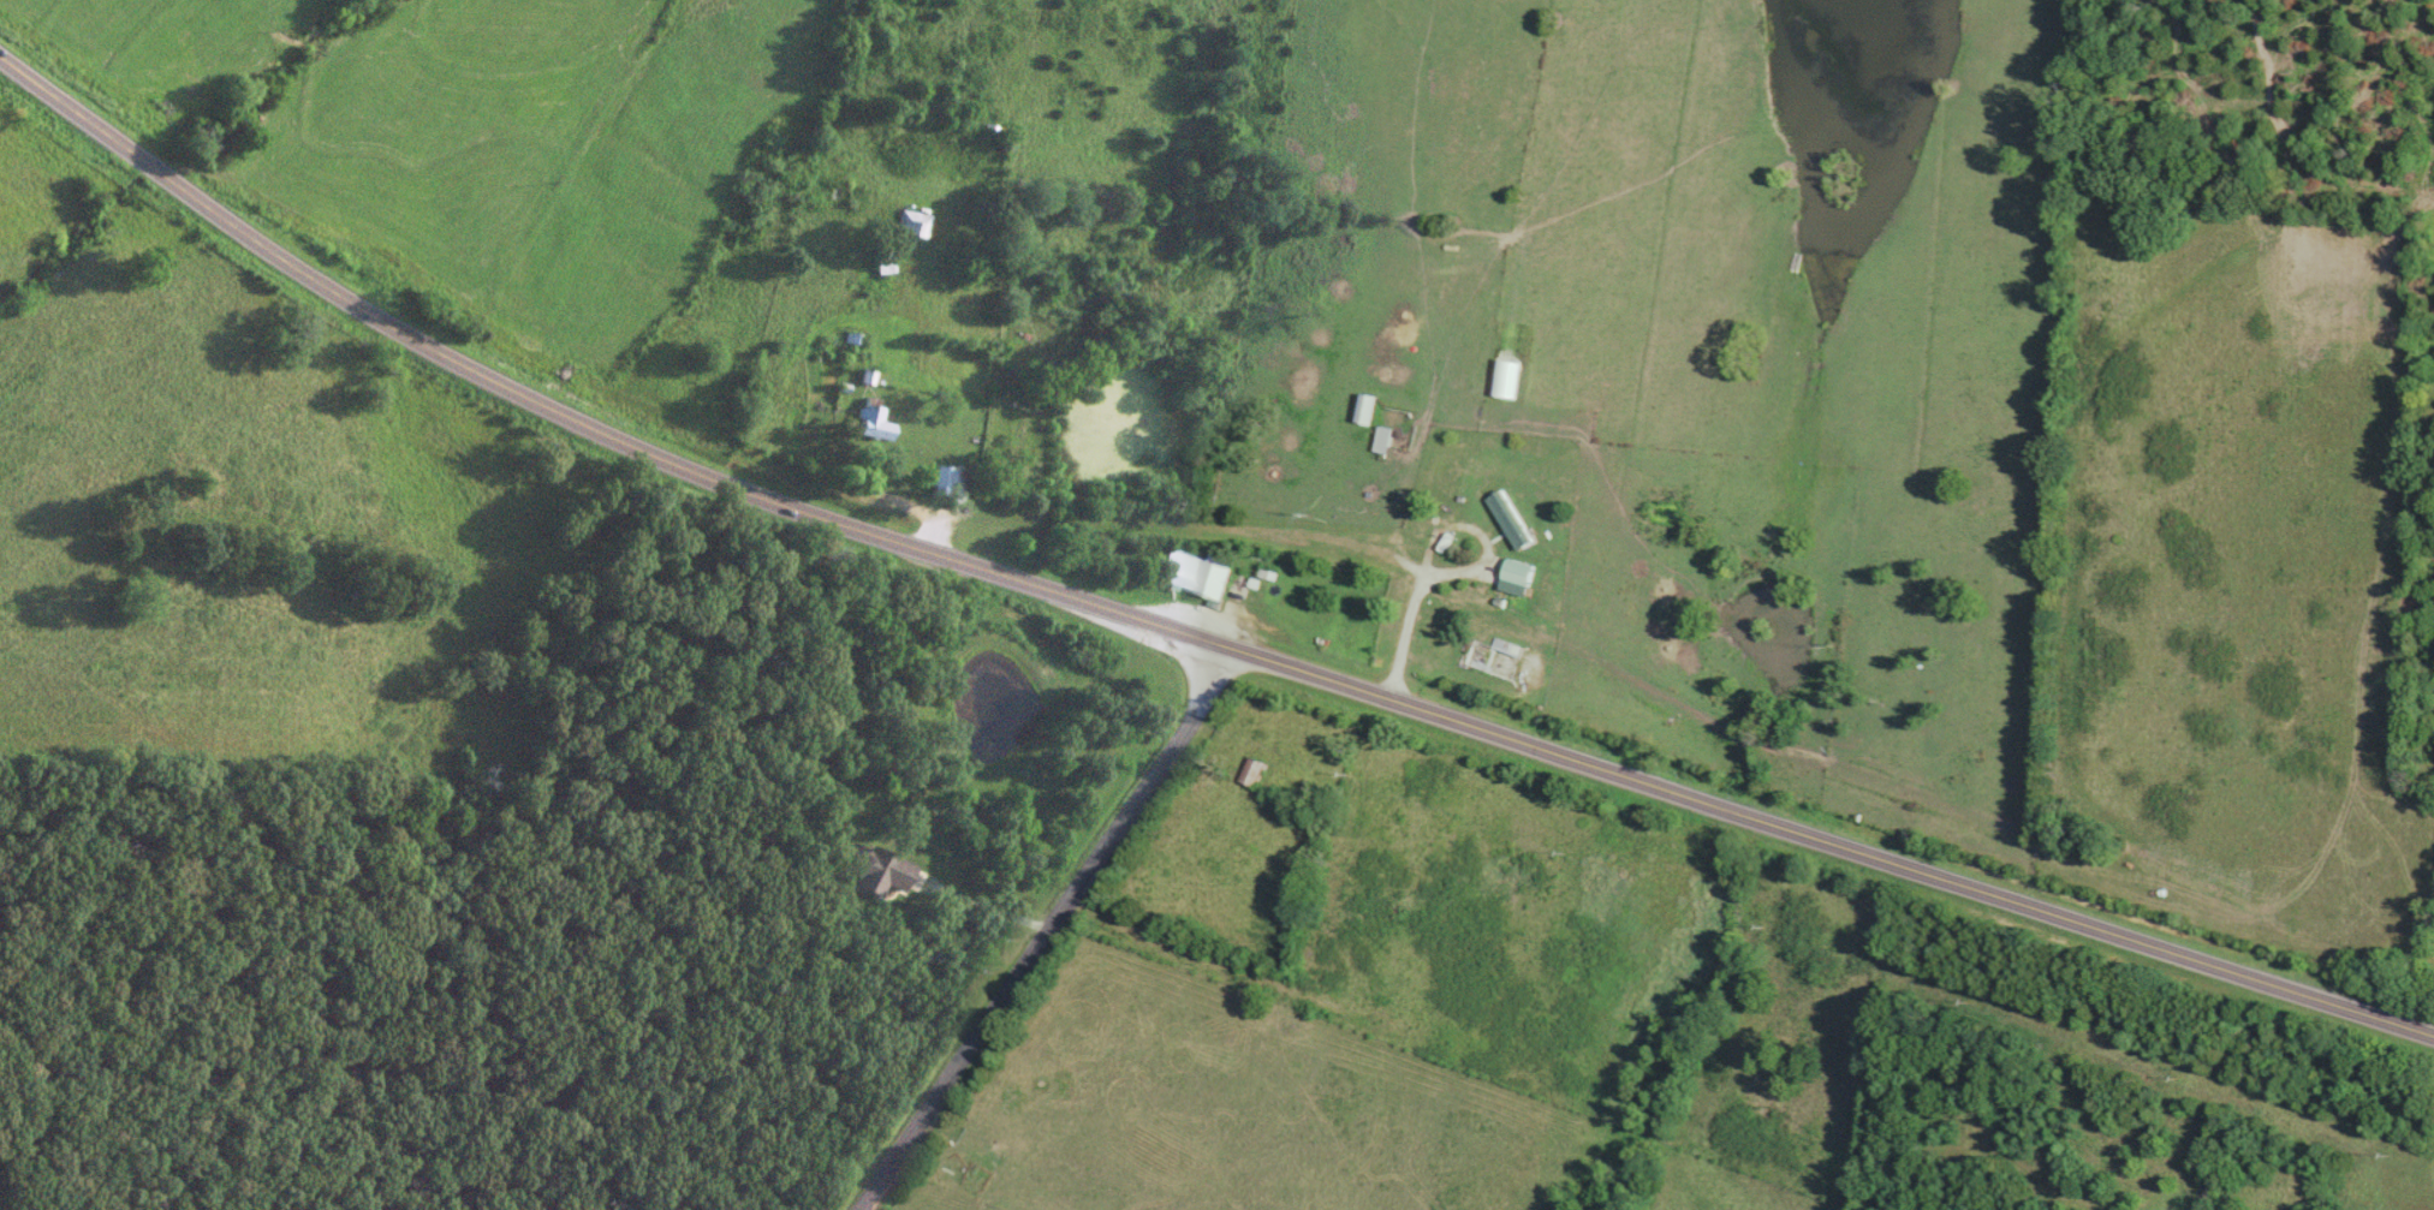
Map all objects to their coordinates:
building: (844, 196)
building: (915, 226)
building: (885, 263)
building: (874, 423)
building: (1382, 441)
building: (951, 483)
building: (1512, 518)
building: (1517, 573)
building: (1194, 574)
road: (1173, 637)
building: (1254, 774)
building: (873, 870)
road: (1049, 935)

